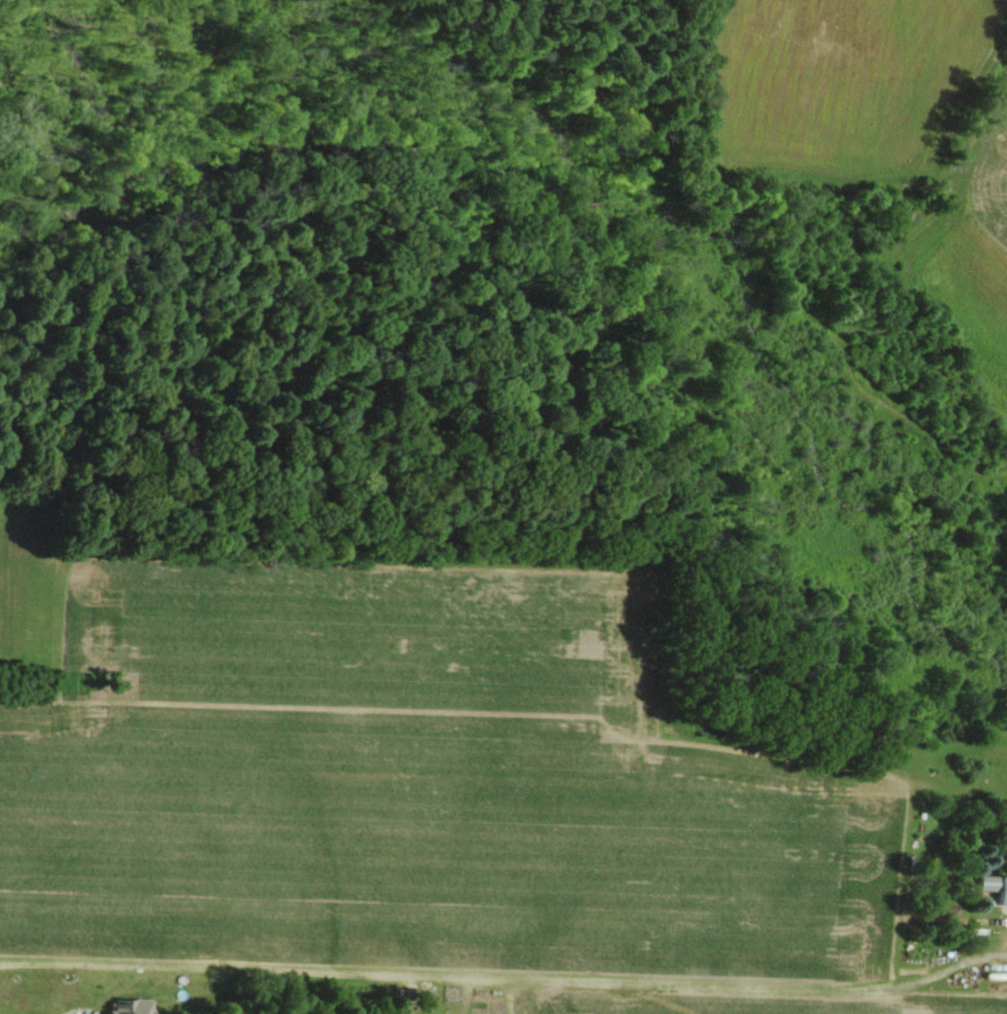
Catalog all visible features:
building: (992, 889)
road: (505, 976)
building: (123, 1006)

